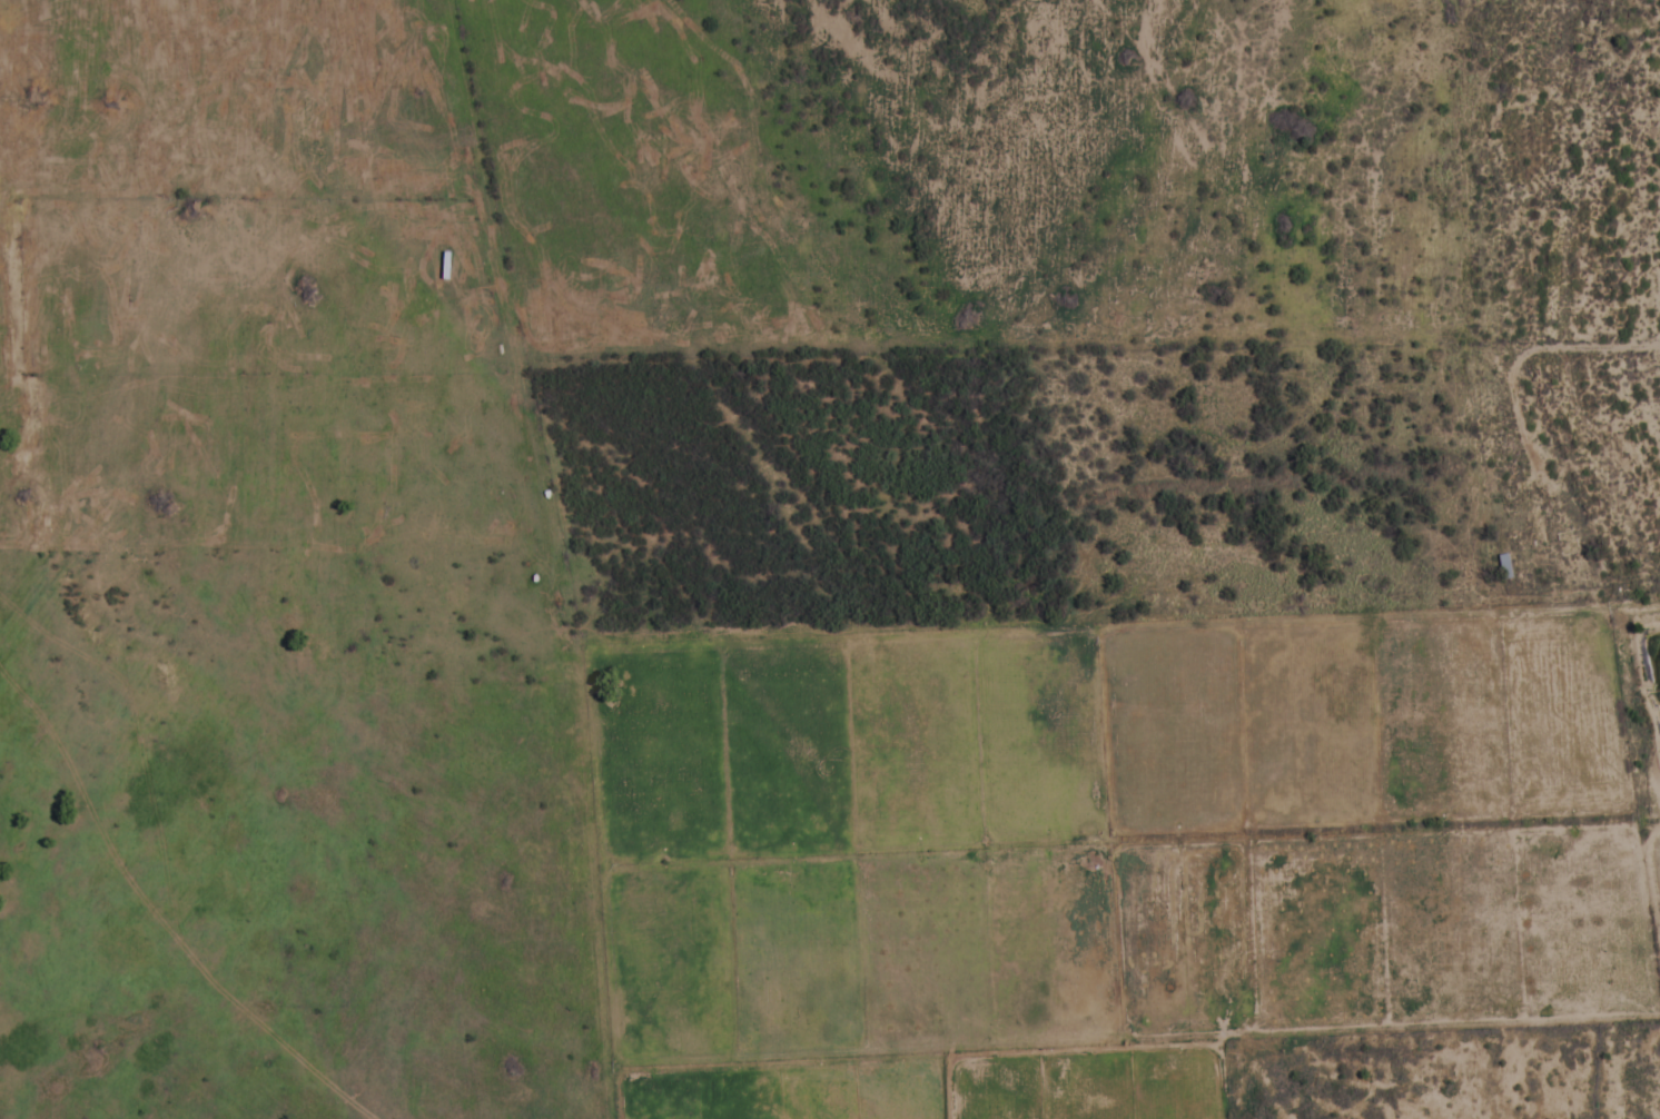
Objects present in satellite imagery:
road: (1644, 2)
building: (1504, 567)

